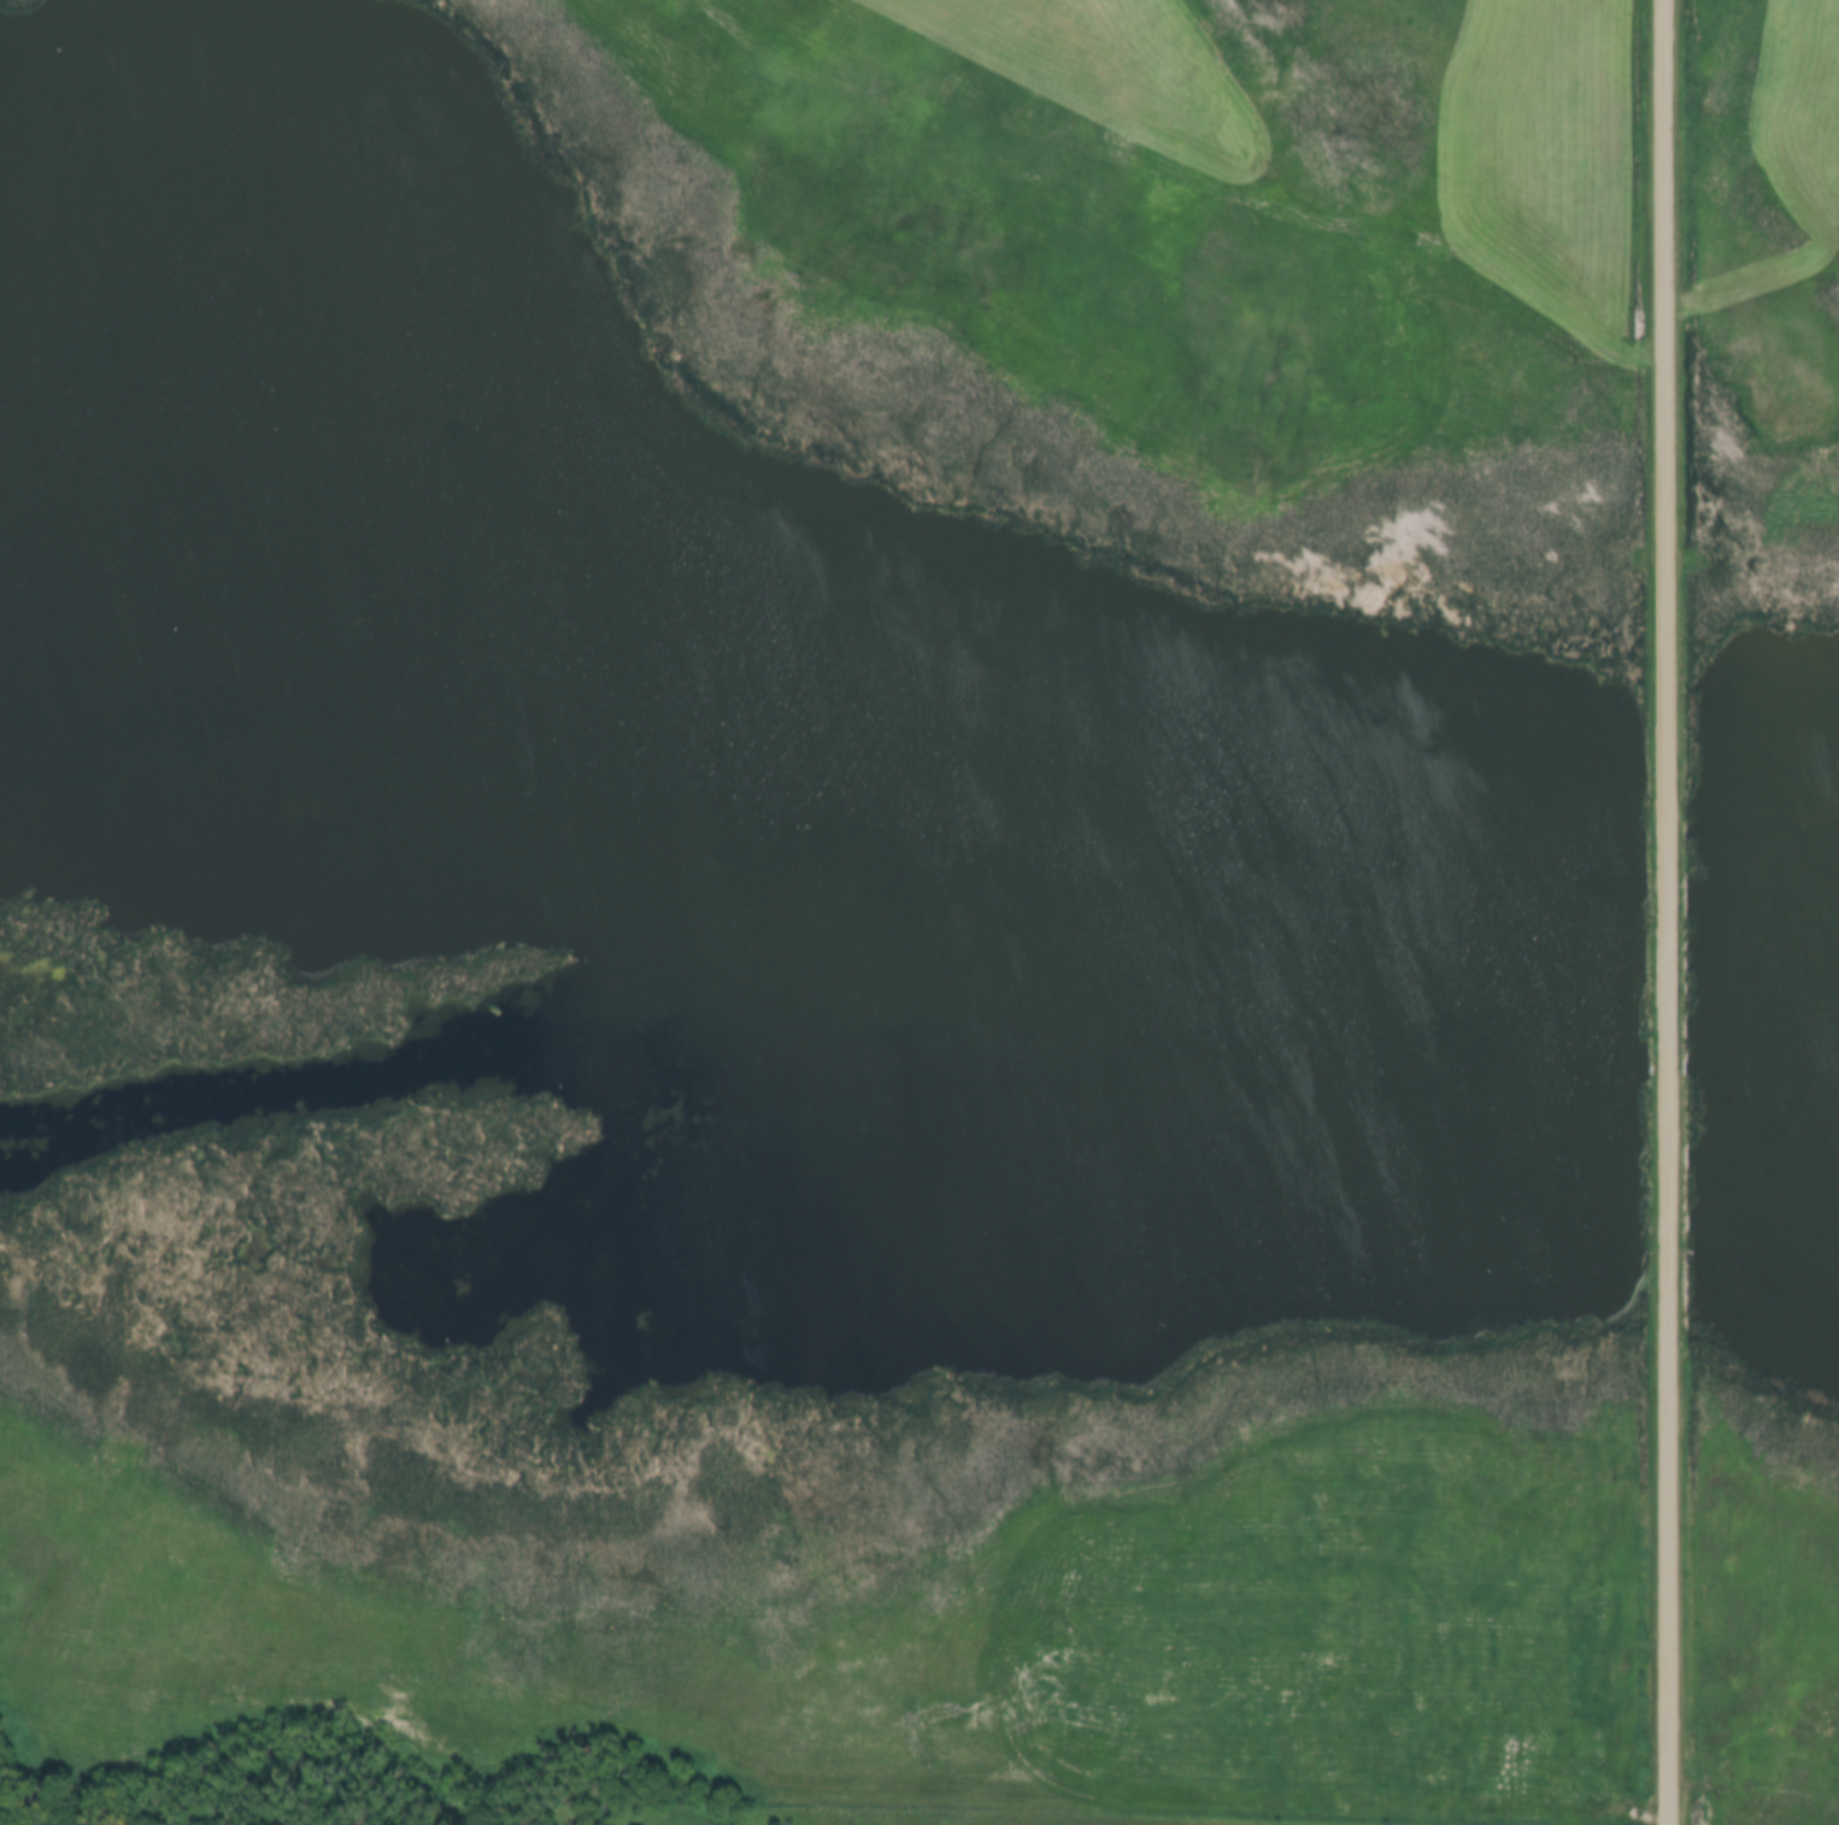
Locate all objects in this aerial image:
road: (1667, 912)

